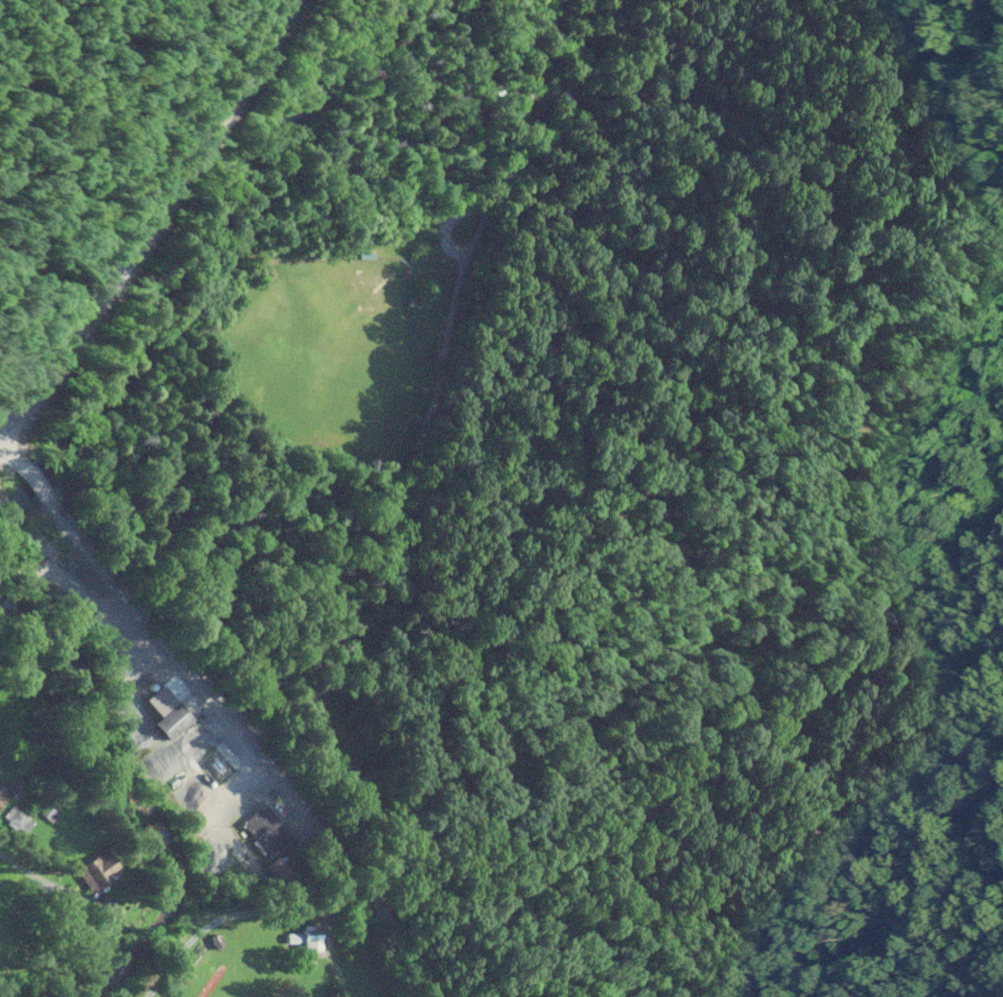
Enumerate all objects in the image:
road: (151, 224)
park: (316, 346)
road: (436, 391)
road: (224, 708)
building: (175, 719)
building: (3, 793)
building: (267, 829)
road: (14, 849)
road: (521, 934)

